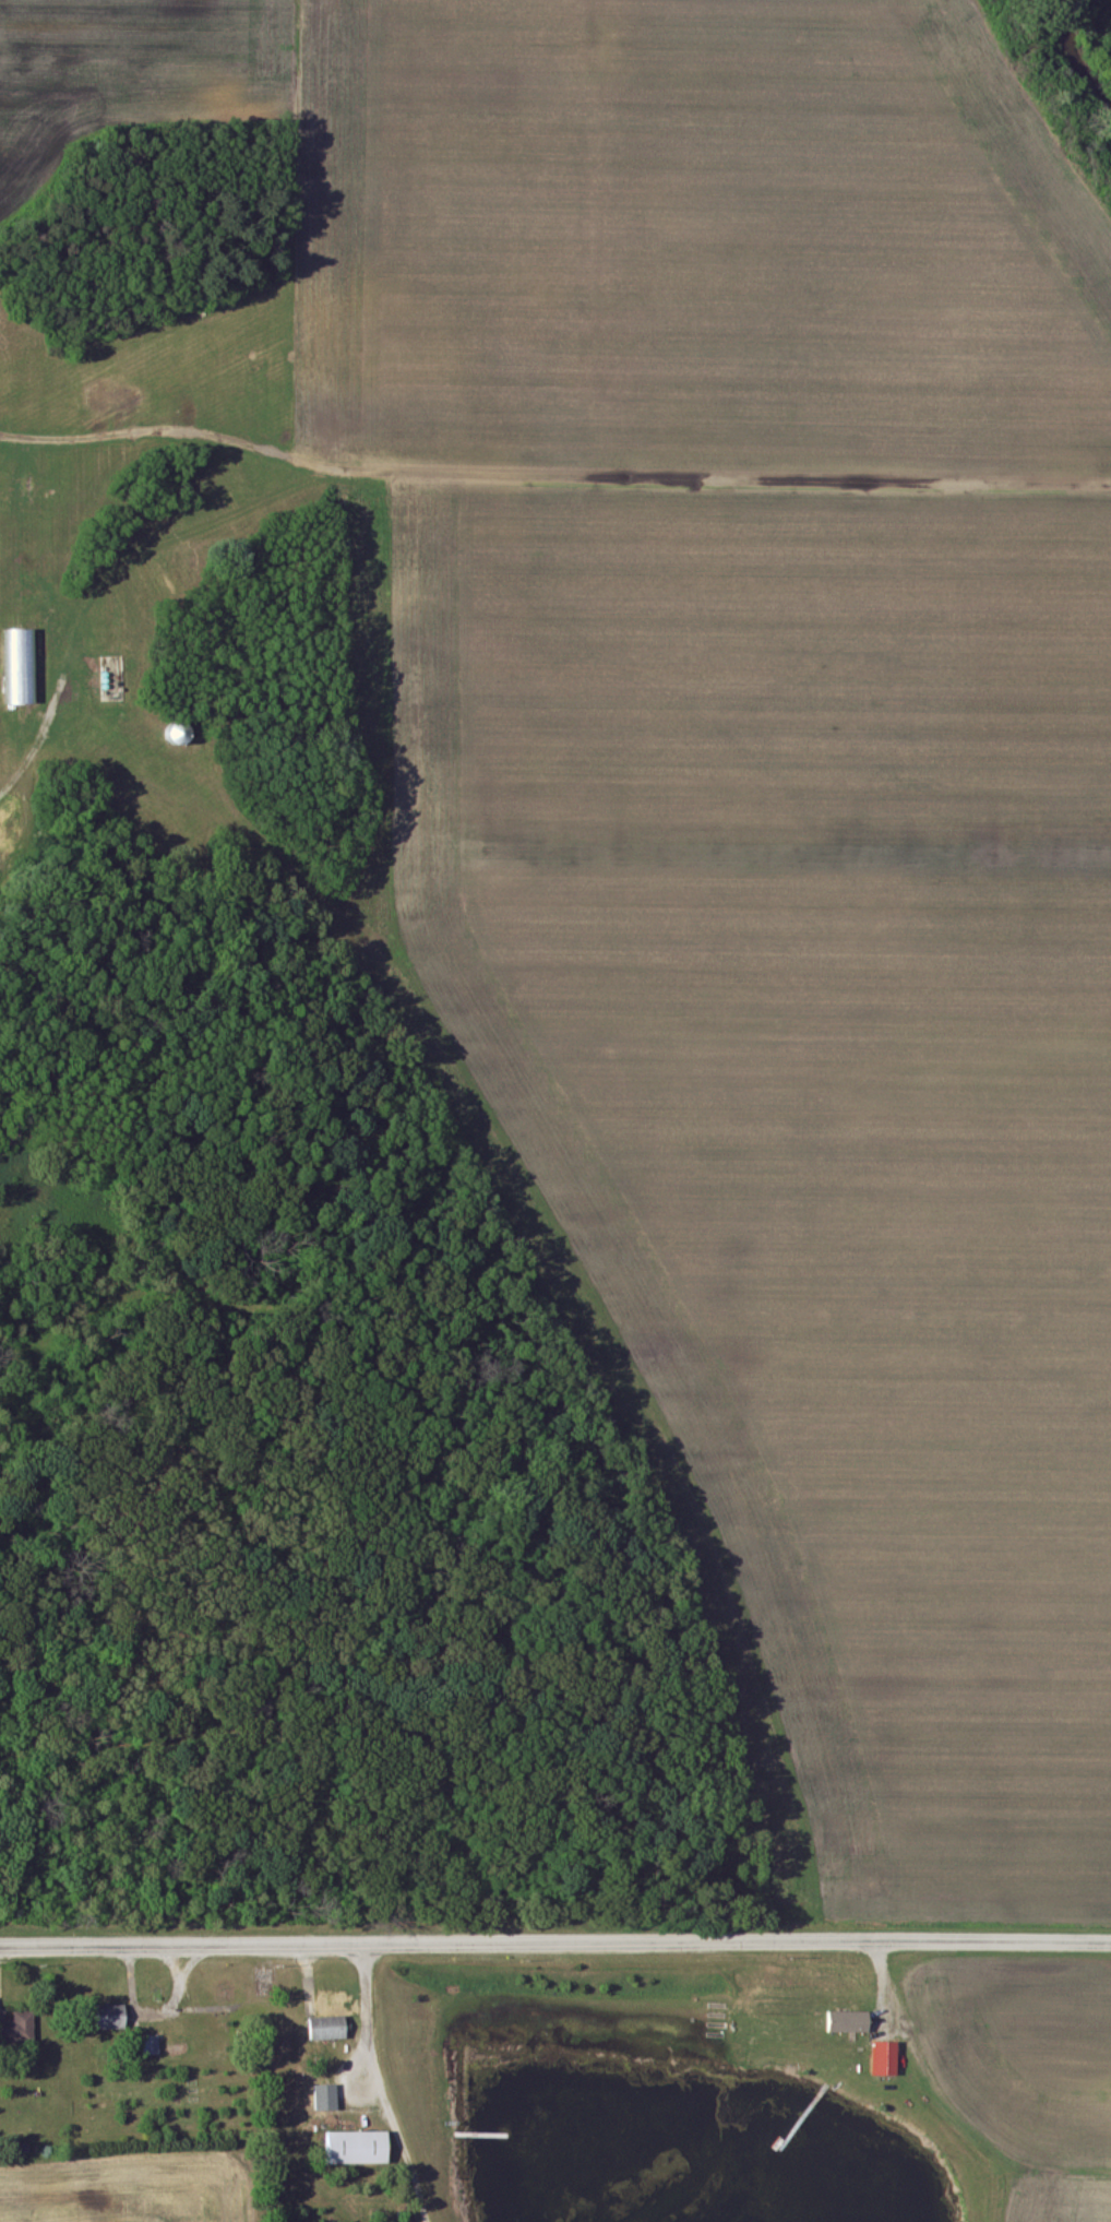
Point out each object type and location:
road: (41, 736)
road: (554, 1942)
building: (114, 2018)
building: (850, 2022)
building: (328, 2029)
building: (19, 2030)
building: (153, 2046)
building: (887, 2059)
road: (373, 2086)
building: (327, 2099)
building: (360, 2149)

